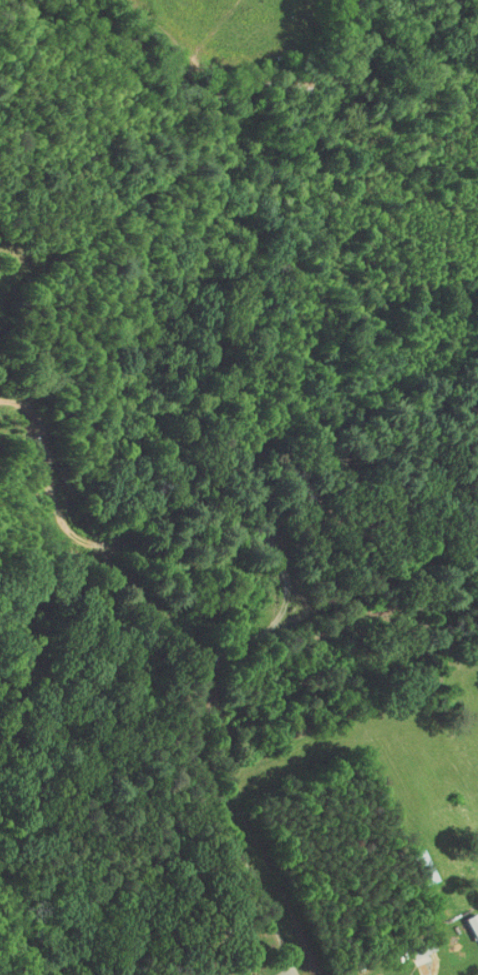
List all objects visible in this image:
road: (288, 589)
road: (288, 973)

